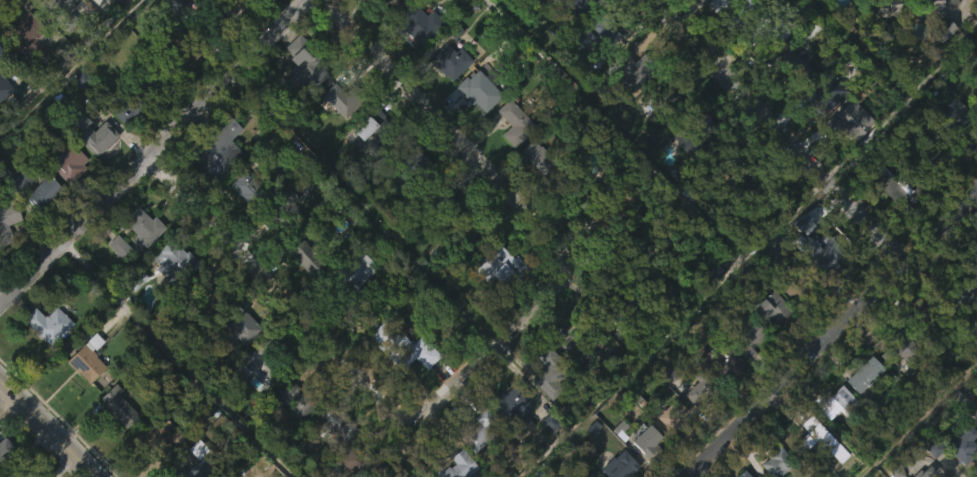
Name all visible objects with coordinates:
building: (380, 2)
building: (544, 2)
building: (118, 3)
building: (970, 4)
building: (232, 5)
building: (849, 5)
building: (580, 6)
building: (917, 7)
building: (735, 9)
building: (86, 10)
building: (194, 11)
building: (260, 11)
building: (63, 12)
building: (697, 15)
building: (381, 20)
building: (210, 24)
building: (420, 25)
building: (115, 30)
building: (597, 32)
building: (768, 33)
building: (57, 35)
building: (27, 36)
building: (568, 36)
building: (717, 36)
building: (230, 41)
building: (885, 43)
building: (171, 45)
building: (935, 48)
building: (184, 51)
building: (2, 56)
building: (452, 60)
building: (413, 62)
building: (789, 66)
building: (304, 67)
building: (632, 70)
building: (582, 73)
building: (22, 79)
building: (153, 80)
building: (4, 86)
building: (481, 90)
building: (819, 92)
building: (932, 93)
building: (181, 94)
building: (300, 95)
building: (667, 97)
building: (347, 98)
building: (445, 99)
building: (789, 100)
building: (129, 105)
building: (973, 106)
building: (628, 109)
building: (4, 118)
building: (954, 118)
building: (517, 121)
building: (475, 128)
building: (378, 130)
road: (772, 131)
building: (91, 133)
building: (694, 133)
building: (825, 133)
building: (336, 137)
building: (122, 146)
building: (974, 146)
building: (221, 150)
road: (154, 152)
building: (548, 155)
building: (926, 156)
building: (700, 157)
building: (727, 158)
building: (511, 160)
building: (67, 162)
building: (411, 165)
building: (361, 166)
road: (487, 166)
building: (90, 172)
building: (215, 187)
building: (576, 188)
building: (896, 188)
building: (250, 190)
building: (42, 191)
building: (761, 191)
building: (436, 194)
building: (533, 194)
building: (63, 198)
road: (362, 208)
building: (618, 208)
building: (284, 214)
building: (8, 221)
building: (241, 223)
building: (887, 223)
building: (144, 226)
road: (940, 227)
building: (471, 228)
building: (39, 229)
building: (283, 243)
building: (6, 257)
building: (309, 257)
building: (819, 257)
building: (798, 259)
building: (176, 261)
building: (140, 264)
building: (642, 264)
building: (972, 266)
building: (498, 267)
building: (709, 269)
building: (784, 273)
building: (346, 276)
building: (115, 284)
building: (811, 288)
building: (956, 291)
building: (303, 293)
building: (203, 294)
building: (167, 296)
building: (496, 302)
building: (970, 303)
building: (637, 306)
building: (771, 306)
building: (925, 313)
building: (133, 316)
building: (629, 318)
building: (240, 322)
building: (52, 323)
road: (317, 335)
building: (745, 335)
building: (585, 337)
building: (406, 346)
building: (769, 346)
building: (899, 348)
building: (919, 350)
building: (262, 360)
building: (45, 361)
building: (239, 361)
building: (720, 361)
building: (88, 364)
road: (793, 370)
building: (553, 372)
building: (744, 374)
building: (864, 374)
building: (570, 381)
building: (410, 386)
building: (700, 386)
building: (302, 397)
building: (82, 400)
building: (716, 400)
building: (836, 401)
building: (512, 403)
building: (253, 404)
building: (974, 404)
building: (121, 405)
building: (860, 411)
building: (672, 414)
road: (914, 414)
building: (976, 415)
road: (47, 428)
building: (481, 429)
building: (334, 430)
building: (291, 432)
building: (163, 433)
building: (646, 438)
building: (816, 438)
building: (508, 439)
building: (115, 442)
building: (963, 444)
building: (4, 446)
building: (665, 455)
building: (333, 460)
building: (361, 461)
building: (776, 462)
building: (475, 463)
building: (617, 465)
building: (460, 466)
building: (147, 467)
building: (18, 468)
building: (195, 470)
building: (644, 471)
building: (921, 472)
building: (743, 474)

